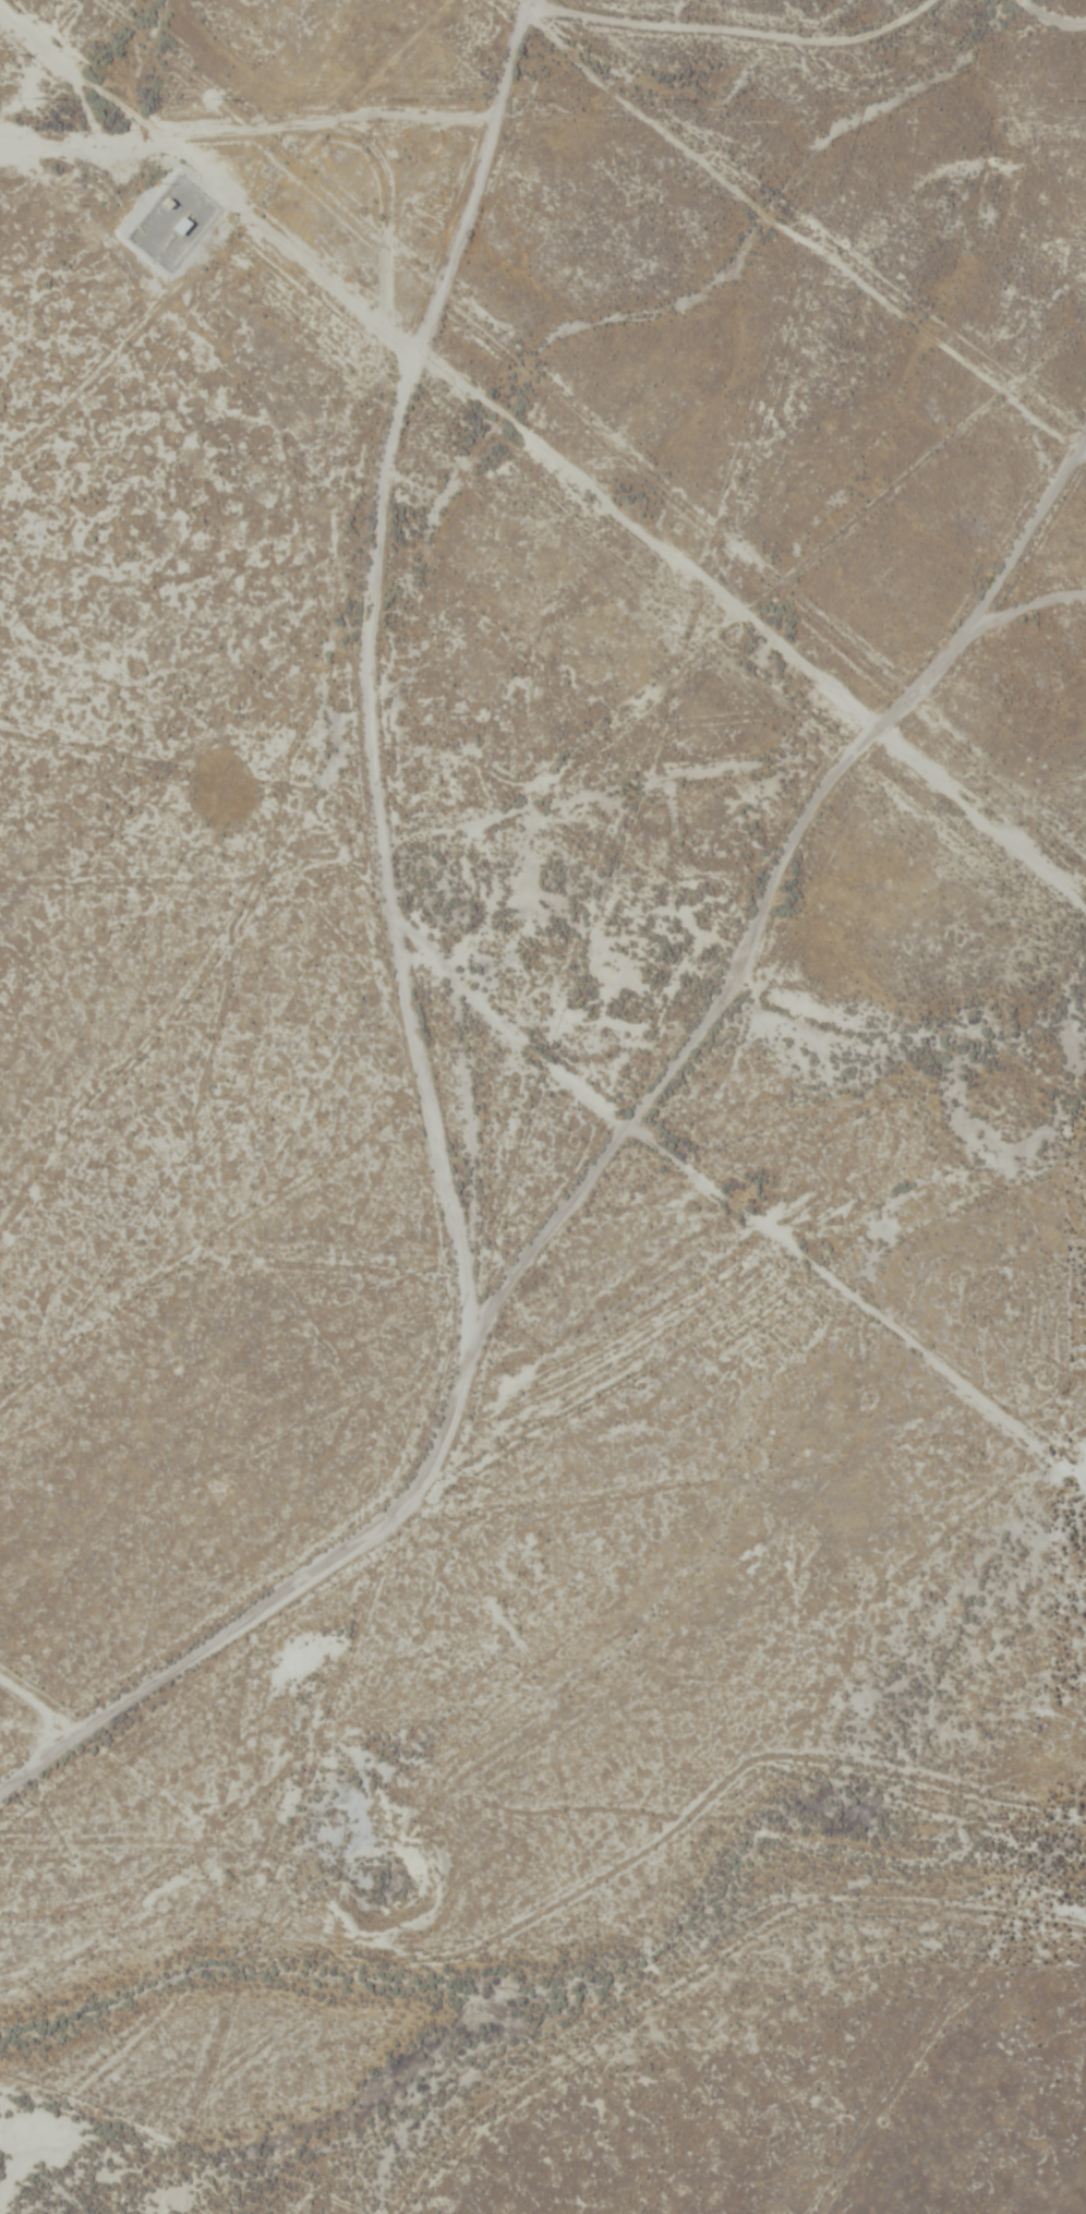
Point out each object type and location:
road: (530, 14)
road: (747, 84)
building: (176, 227)
road: (829, 316)
road: (1033, 637)
road: (783, 910)
road: (394, 1027)

